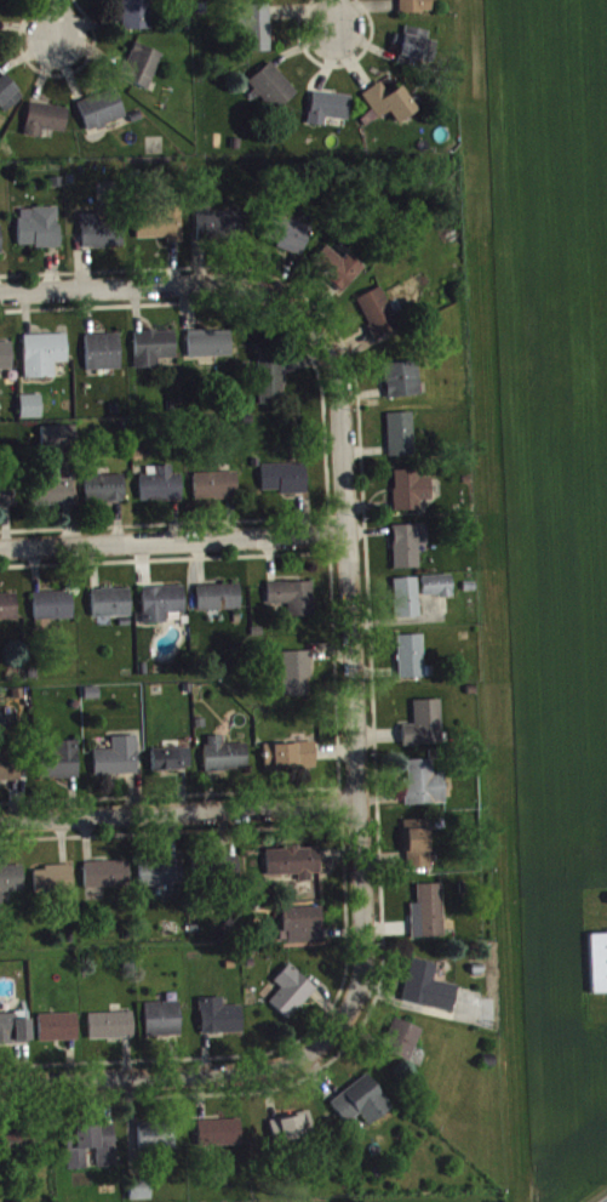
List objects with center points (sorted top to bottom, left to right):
building: (417, 8)
road: (336, 16)
building: (138, 17)
road: (55, 18)
building: (259, 33)
building: (416, 53)
building: (143, 72)
building: (274, 92)
building: (8, 98)
building: (391, 108)
building: (103, 115)
building: (331, 115)
building: (47, 124)
building: (162, 230)
building: (219, 230)
building: (40, 233)
building: (102, 238)
building: (291, 239)
building: (1, 245)
building: (339, 273)
road: (191, 284)
building: (379, 318)
building: (211, 351)
building: (155, 353)
building: (104, 357)
building: (45, 360)
building: (403, 384)
building: (273, 389)
building: (33, 412)
building: (402, 440)
building: (61, 442)
building: (285, 483)
building: (162, 491)
building: (217, 491)
building: (107, 494)
building: (412, 495)
building: (56, 496)
building: (8, 497)
road: (171, 542)
building: (410, 551)
building: (439, 592)
building: (219, 603)
building: (293, 603)
building: (407, 603)
building: (111, 608)
building: (162, 609)
building: (55, 611)
building: (8, 613)
building: (412, 662)
building: (297, 679)
road: (350, 701)
building: (425, 730)
building: (225, 760)
building: (291, 760)
building: (119, 763)
building: (172, 764)
building: (63, 767)
building: (11, 774)
building: (425, 790)
road: (177, 814)
building: (419, 849)
building: (294, 868)
building: (162, 877)
building: (108, 881)
building: (56, 884)
building: (430, 918)
building: (303, 930)
building: (600, 968)
building: (430, 993)
building: (292, 997)
building: (222, 1022)
building: (164, 1025)
building: (113, 1031)
building: (59, 1032)
building: (16, 1033)
building: (403, 1046)
road: (182, 1076)
building: (363, 1107)
building: (294, 1133)
building: (221, 1139)
building: (165, 1144)
building: (17, 1146)
building: (92, 1151)
building: (142, 1194)
road: (606, 1201)

